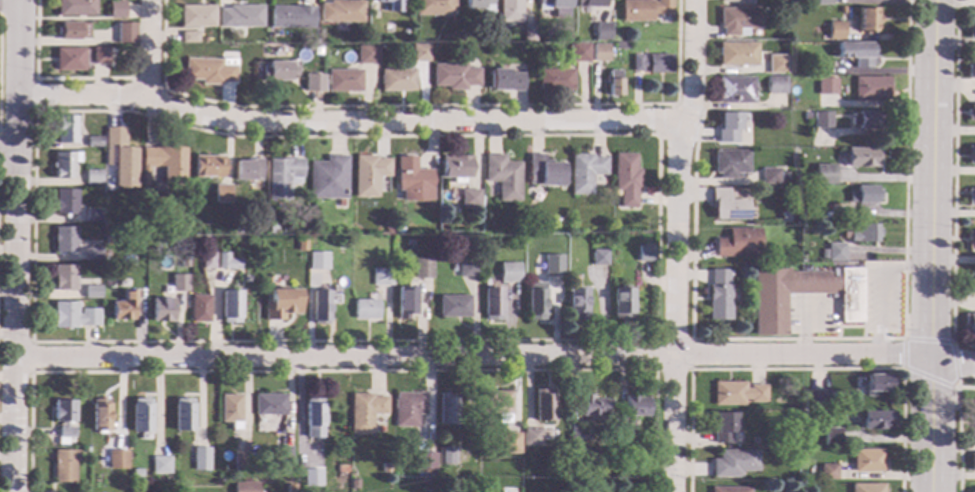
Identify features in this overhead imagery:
road: (10, 0)
building: (727, 1)
building: (822, 2)
building: (479, 4)
building: (590, 4)
building: (391, 5)
building: (433, 7)
building: (555, 7)
building: (74, 8)
building: (116, 10)
building: (643, 10)
building: (839, 10)
building: (341, 11)
building: (510, 11)
building: (373, 15)
building: (197, 16)
building: (848, 16)
road: (9, 17)
building: (240, 17)
building: (291, 17)
building: (867, 20)
building: (738, 21)
building: (971, 29)
building: (72, 30)
building: (835, 31)
building: (602, 32)
building: (125, 33)
building: (528, 33)
building: (111, 37)
building: (189, 37)
building: (484, 37)
building: (620, 46)
road: (147, 47)
building: (317, 51)
building: (578, 52)
building: (824, 52)
building: (419, 53)
building: (599, 53)
building: (366, 54)
building: (736, 54)
building: (861, 55)
building: (100, 56)
building: (68, 59)
road: (691, 62)
building: (652, 63)
building: (775, 65)
building: (210, 71)
building: (278, 71)
building: (971, 71)
building: (454, 76)
road: (44, 80)
road: (132, 80)
building: (396, 80)
building: (505, 80)
building: (555, 80)
building: (344, 81)
building: (313, 83)
building: (613, 83)
building: (775, 85)
building: (825, 87)
building: (870, 88)
building: (734, 90)
road: (35, 96)
road: (426, 107)
road: (674, 109)
building: (971, 113)
building: (805, 116)
building: (820, 120)
building: (865, 120)
road: (346, 122)
building: (727, 128)
building: (65, 129)
building: (93, 142)
road: (8, 151)
building: (970, 155)
building: (859, 157)
building: (120, 158)
building: (729, 163)
building: (162, 164)
building: (64, 165)
building: (207, 167)
building: (456, 168)
building: (248, 169)
road: (17, 170)
building: (543, 172)
building: (584, 173)
building: (823, 174)
building: (368, 175)
building: (768, 176)
building: (781, 176)
building: (92, 177)
building: (281, 177)
building: (502, 177)
building: (328, 178)
road: (930, 179)
building: (625, 180)
building: (413, 181)
road: (954, 183)
building: (222, 194)
building: (862, 195)
building: (970, 197)
building: (470, 198)
building: (65, 202)
building: (725, 206)
building: (806, 213)
building: (92, 216)
building: (783, 218)
building: (387, 227)
building: (399, 229)
building: (271, 230)
building: (862, 234)
building: (64, 239)
building: (970, 240)
building: (409, 243)
building: (736, 243)
road: (16, 246)
building: (835, 252)
building: (822, 253)
building: (92, 254)
building: (644, 254)
building: (777, 255)
building: (598, 257)
building: (206, 261)
building: (316, 261)
building: (226, 262)
building: (182, 264)
building: (551, 265)
building: (424, 267)
building: (466, 268)
building: (510, 271)
building: (381, 277)
building: (63, 278)
building: (95, 283)
building: (178, 283)
building: (970, 283)
building: (488, 284)
building: (830, 289)
road: (882, 289)
building: (91, 292)
building: (717, 295)
building: (534, 301)
building: (405, 302)
building: (280, 303)
building: (576, 303)
building: (491, 304)
building: (621, 304)
road: (674, 306)
building: (124, 307)
building: (229, 307)
building: (319, 307)
building: (452, 307)
building: (198, 309)
building: (162, 310)
building: (364, 310)
building: (72, 316)
building: (969, 323)
road: (805, 329)
road: (850, 339)
road: (906, 339)
road: (644, 341)
road: (472, 356)
road: (951, 361)
road: (798, 369)
road: (690, 371)
road: (344, 372)
building: (877, 383)
building: (736, 394)
building: (817, 399)
building: (494, 403)
building: (268, 405)
building: (542, 406)
building: (591, 407)
building: (229, 408)
building: (406, 409)
building: (445, 409)
building: (364, 412)
building: (630, 413)
building: (99, 415)
building: (182, 415)
building: (63, 416)
building: (139, 416)
building: (313, 416)
building: (876, 421)
road: (928, 425)
building: (722, 427)
road: (958, 430)
building: (578, 433)
building: (830, 437)
building: (529, 438)
building: (508, 443)
building: (768, 444)
building: (83, 450)
building: (281, 456)
building: (444, 456)
building: (199, 459)
building: (116, 460)
building: (240, 461)
building: (423, 461)
building: (866, 461)
building: (972, 462)
building: (732, 463)
building: (63, 465)
building: (159, 465)
building: (383, 468)
building: (629, 468)
building: (339, 469)
building: (827, 472)
building: (426, 474)
building: (310, 477)
building: (352, 484)
building: (426, 485)
building: (243, 486)
building: (289, 488)
building: (866, 488)
building: (728, 490)
building: (974, 491)

